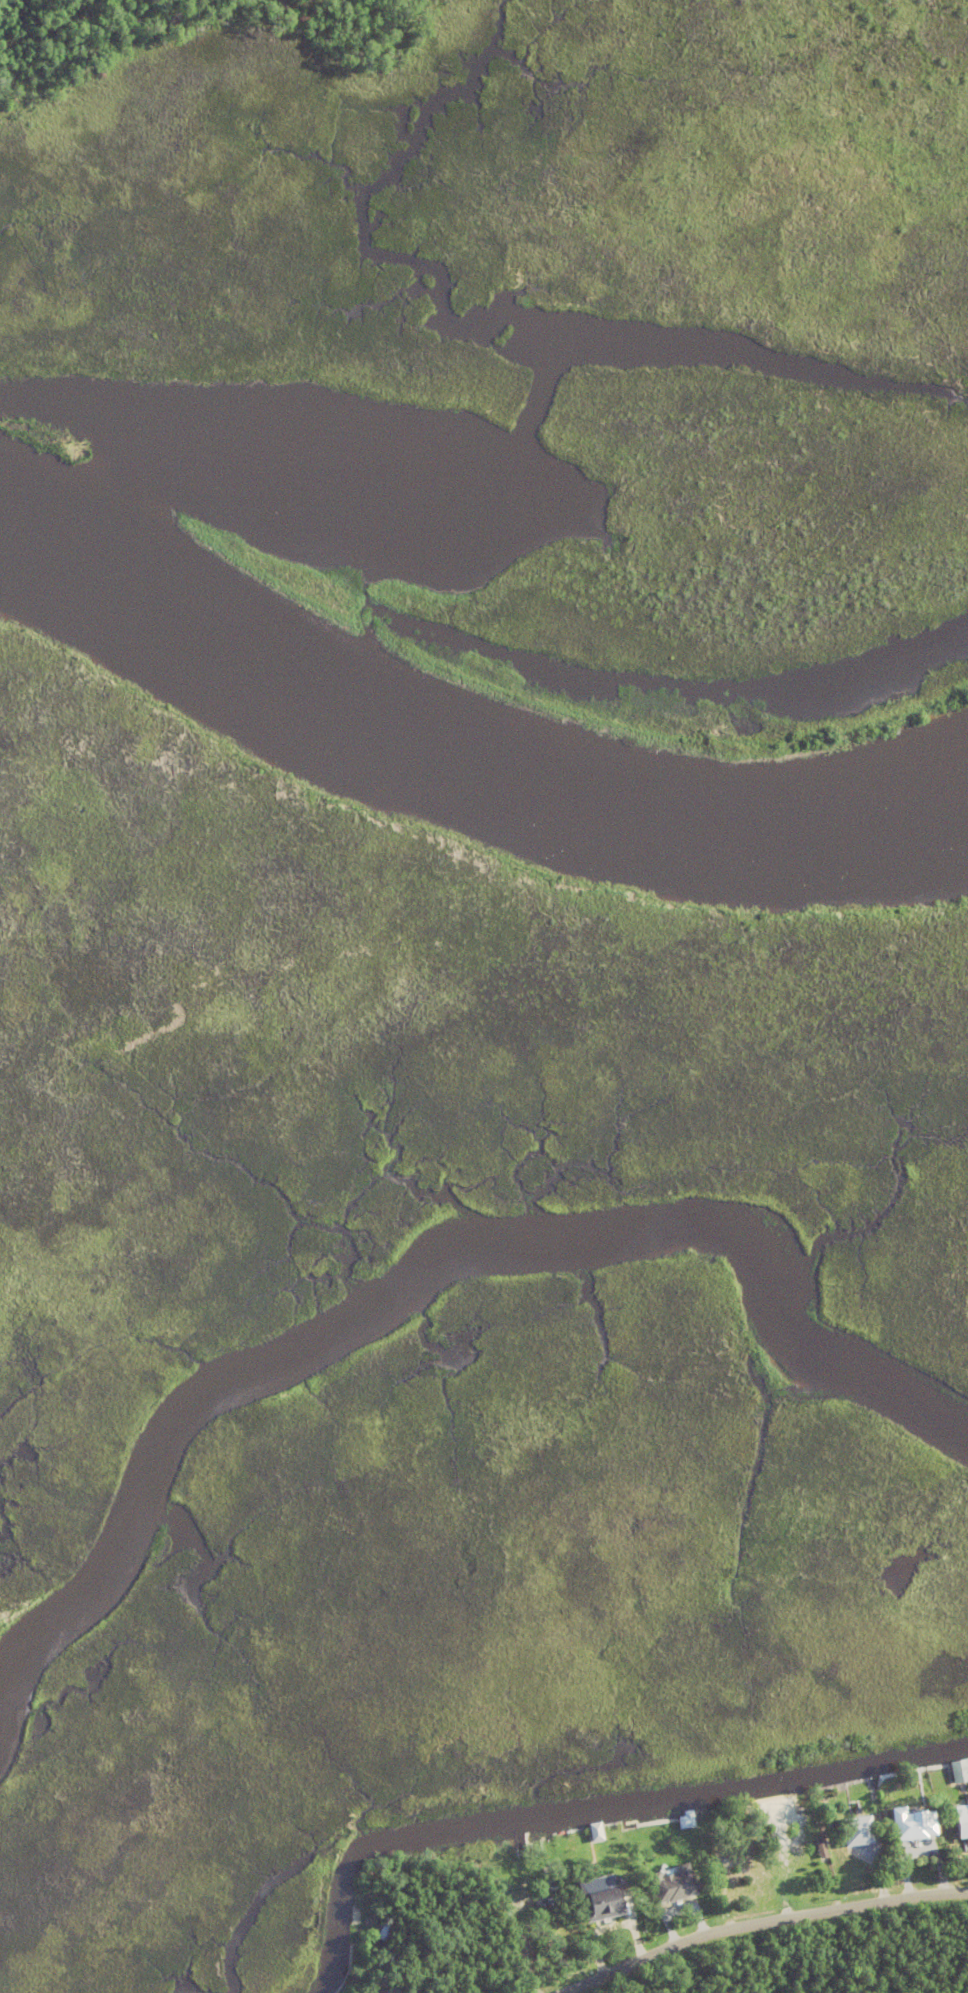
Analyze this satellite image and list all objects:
river: (460, 762)
building: (959, 1770)
building: (966, 1820)
building: (911, 1821)
building: (947, 1823)
building: (856, 1829)
building: (596, 1831)
building: (821, 1847)
building: (748, 1860)
building: (673, 1883)
building: (549, 1887)
road: (766, 1924)
building: (600, 1926)
building: (383, 1931)
building: (390, 1990)

